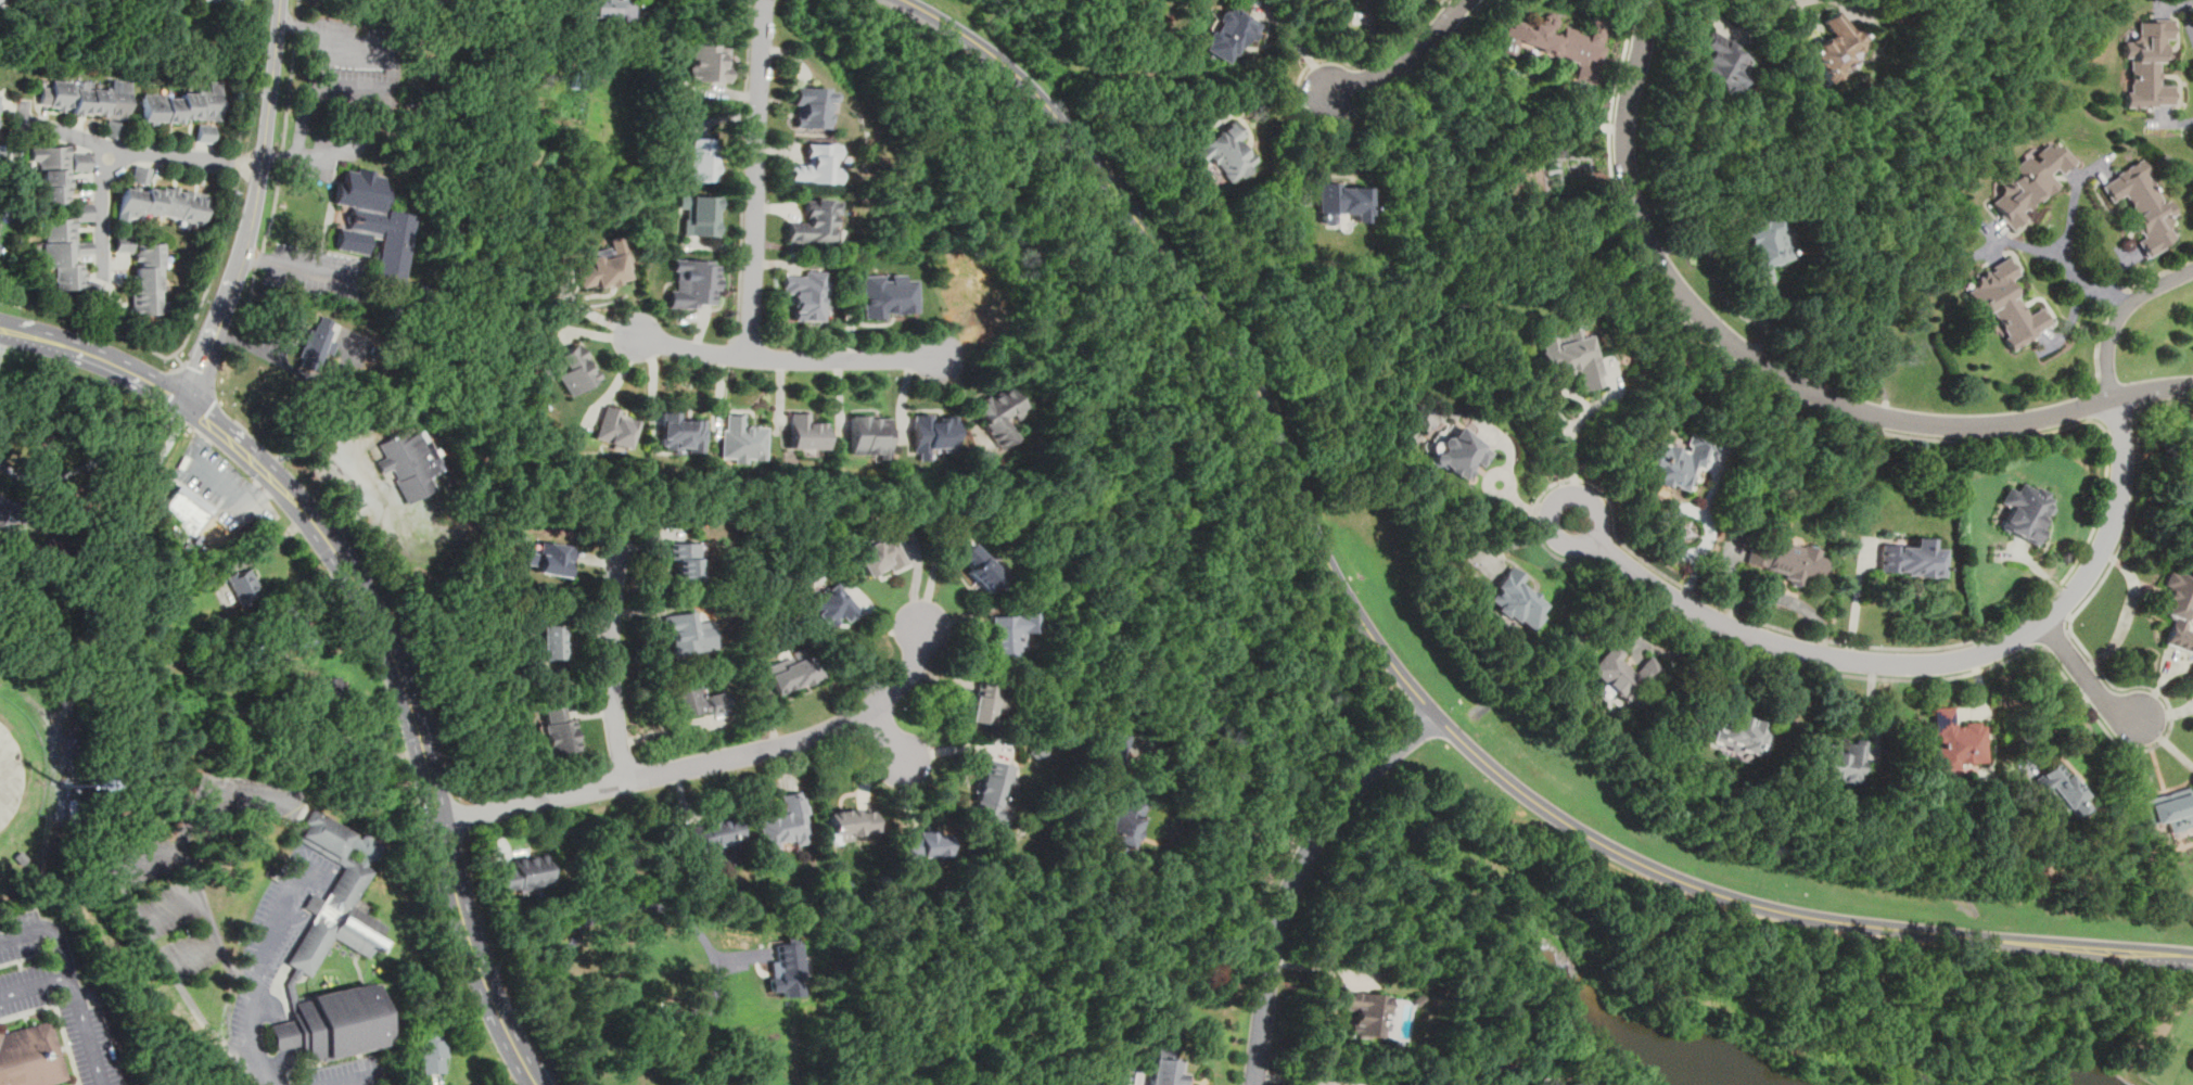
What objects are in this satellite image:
building: (1, 0)
building: (227, 1)
road: (2168, 3)
road: (1850, 7)
building: (608, 9)
road: (2188, 17)
road: (1722, 22)
building: (1229, 31)
road: (1375, 35)
road: (1299, 43)
building: (1559, 43)
building: (1837, 47)
road: (1406, 55)
building: (709, 62)
building: (1724, 65)
building: (2146, 65)
road: (990, 69)
building: (90, 101)
road: (1271, 103)
building: (184, 104)
building: (812, 106)
road: (246, 110)
road: (2159, 112)
road: (1313, 118)
road: (2170, 119)
building: (205, 132)
road: (265, 137)
road: (1324, 145)
road: (140, 152)
road: (281, 152)
building: (1227, 152)
building: (699, 158)
building: (81, 161)
road: (2103, 162)
road: (238, 163)
building: (817, 164)
road: (747, 169)
building: (53, 171)
building: (141, 174)
road: (2074, 175)
road: (758, 177)
building: (2032, 178)
building: (1344, 200)
building: (161, 203)
road: (1939, 205)
building: (2140, 205)
road: (102, 210)
building: (701, 215)
building: (815, 221)
building: (374, 224)
road: (1997, 240)
building: (124, 242)
road: (2066, 242)
road: (2030, 245)
building: (1768, 246)
building: (68, 251)
building: (605, 265)
road: (299, 266)
road: (2119, 269)
road: (212, 273)
road: (2159, 275)
building: (149, 278)
building: (694, 282)
road: (1719, 286)
building: (805, 294)
building: (888, 295)
building: (2004, 303)
road: (2118, 303)
road: (2120, 315)
road: (2071, 320)
road: (106, 330)
building: (320, 333)
road: (2053, 334)
road: (215, 339)
road: (3, 344)
road: (740, 347)
road: (2100, 352)
road: (1722, 354)
building: (1570, 356)
road: (98, 357)
road: (789, 358)
building: (574, 368)
road: (293, 369)
road: (192, 372)
road: (1772, 373)
road: (2163, 403)
traffic signals: (189, 405)
road: (2090, 405)
building: (998, 413)
road: (2099, 423)
road: (2124, 423)
building: (616, 426)
building: (806, 431)
building: (680, 432)
building: (932, 433)
building: (869, 436)
road: (1571, 436)
building: (741, 439)
road: (1510, 442)
road: (238, 443)
building: (1458, 452)
building: (416, 461)
building: (1676, 462)
road: (93, 464)
road: (1521, 503)
building: (1, 508)
building: (2027, 510)
road: (1614, 511)
building: (187, 513)
road: (2126, 531)
road: (1567, 545)
building: (881, 554)
building: (551, 558)
building: (1911, 559)
building: (1790, 560)
building: (686, 562)
building: (981, 567)
road: (1729, 569)
building: (244, 584)
building: (1515, 599)
road: (1858, 600)
road: (1798, 602)
building: (832, 603)
building: (2177, 608)
road: (122, 611)
building: (298, 630)
building: (683, 630)
building: (1011, 631)
road: (2055, 639)
building: (551, 641)
road: (1649, 647)
road: (611, 660)
road: (1931, 662)
building: (1622, 672)
building: (794, 673)
road: (2086, 675)
road: (1406, 681)
road: (1718, 682)
building: (326, 691)
building: (697, 701)
building: (985, 703)
road: (1875, 715)
road: (2053, 723)
building: (559, 730)
building: (1743, 732)
road: (889, 735)
road: (2164, 739)
building: (1958, 740)
building: (1113, 754)
building: (1837, 762)
road: (707, 763)
road: (1153, 767)
road: (430, 776)
building: (2063, 789)
building: (994, 791)
road: (222, 796)
building: (2172, 808)
road: (1226, 817)
building: (787, 822)
building: (852, 824)
building: (1122, 826)
building: (716, 832)
building: (926, 843)
building: (22, 857)
road: (130, 868)
road: (1293, 873)
building: (526, 875)
road: (1184, 906)
road: (276, 927)
road: (582, 927)
road: (51, 929)
building: (343, 935)
building: (791, 958)
road: (76, 994)
building: (1366, 1012)
building: (699, 1020)
road: (251, 1046)
building: (434, 1047)
park: (2163, 1047)
building: (29, 1056)
building: (1161, 1068)
road: (354, 1080)
building: (1543, 1081)
building: (1578, 1082)

